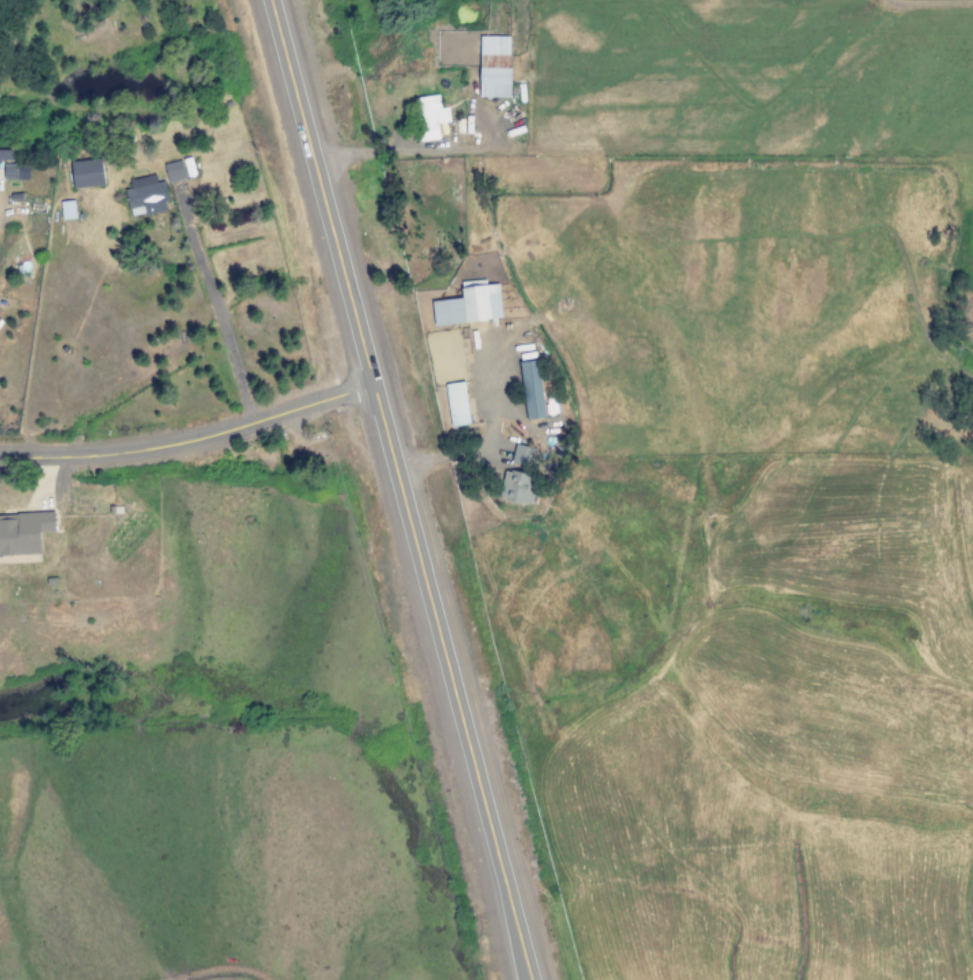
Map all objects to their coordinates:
building: (493, 66)
building: (431, 116)
building: (174, 171)
building: (86, 174)
building: (145, 196)
building: (67, 210)
building: (468, 306)
building: (531, 390)
building: (457, 404)
road: (185, 439)
building: (522, 455)
building: (516, 488)
road: (392, 490)
building: (23, 533)

